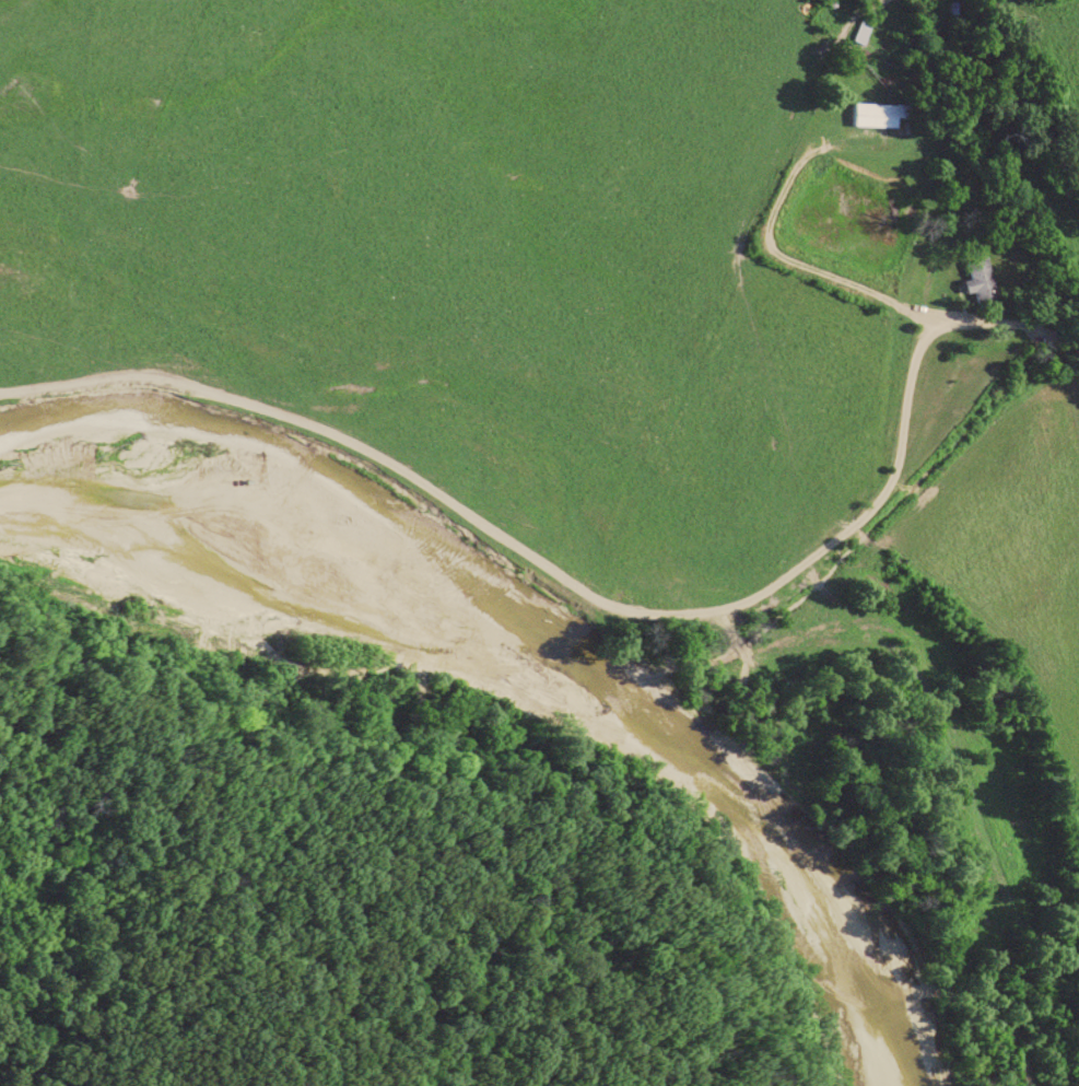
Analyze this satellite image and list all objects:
building: (878, 115)
building: (984, 280)
road: (791, 575)
river: (546, 690)

